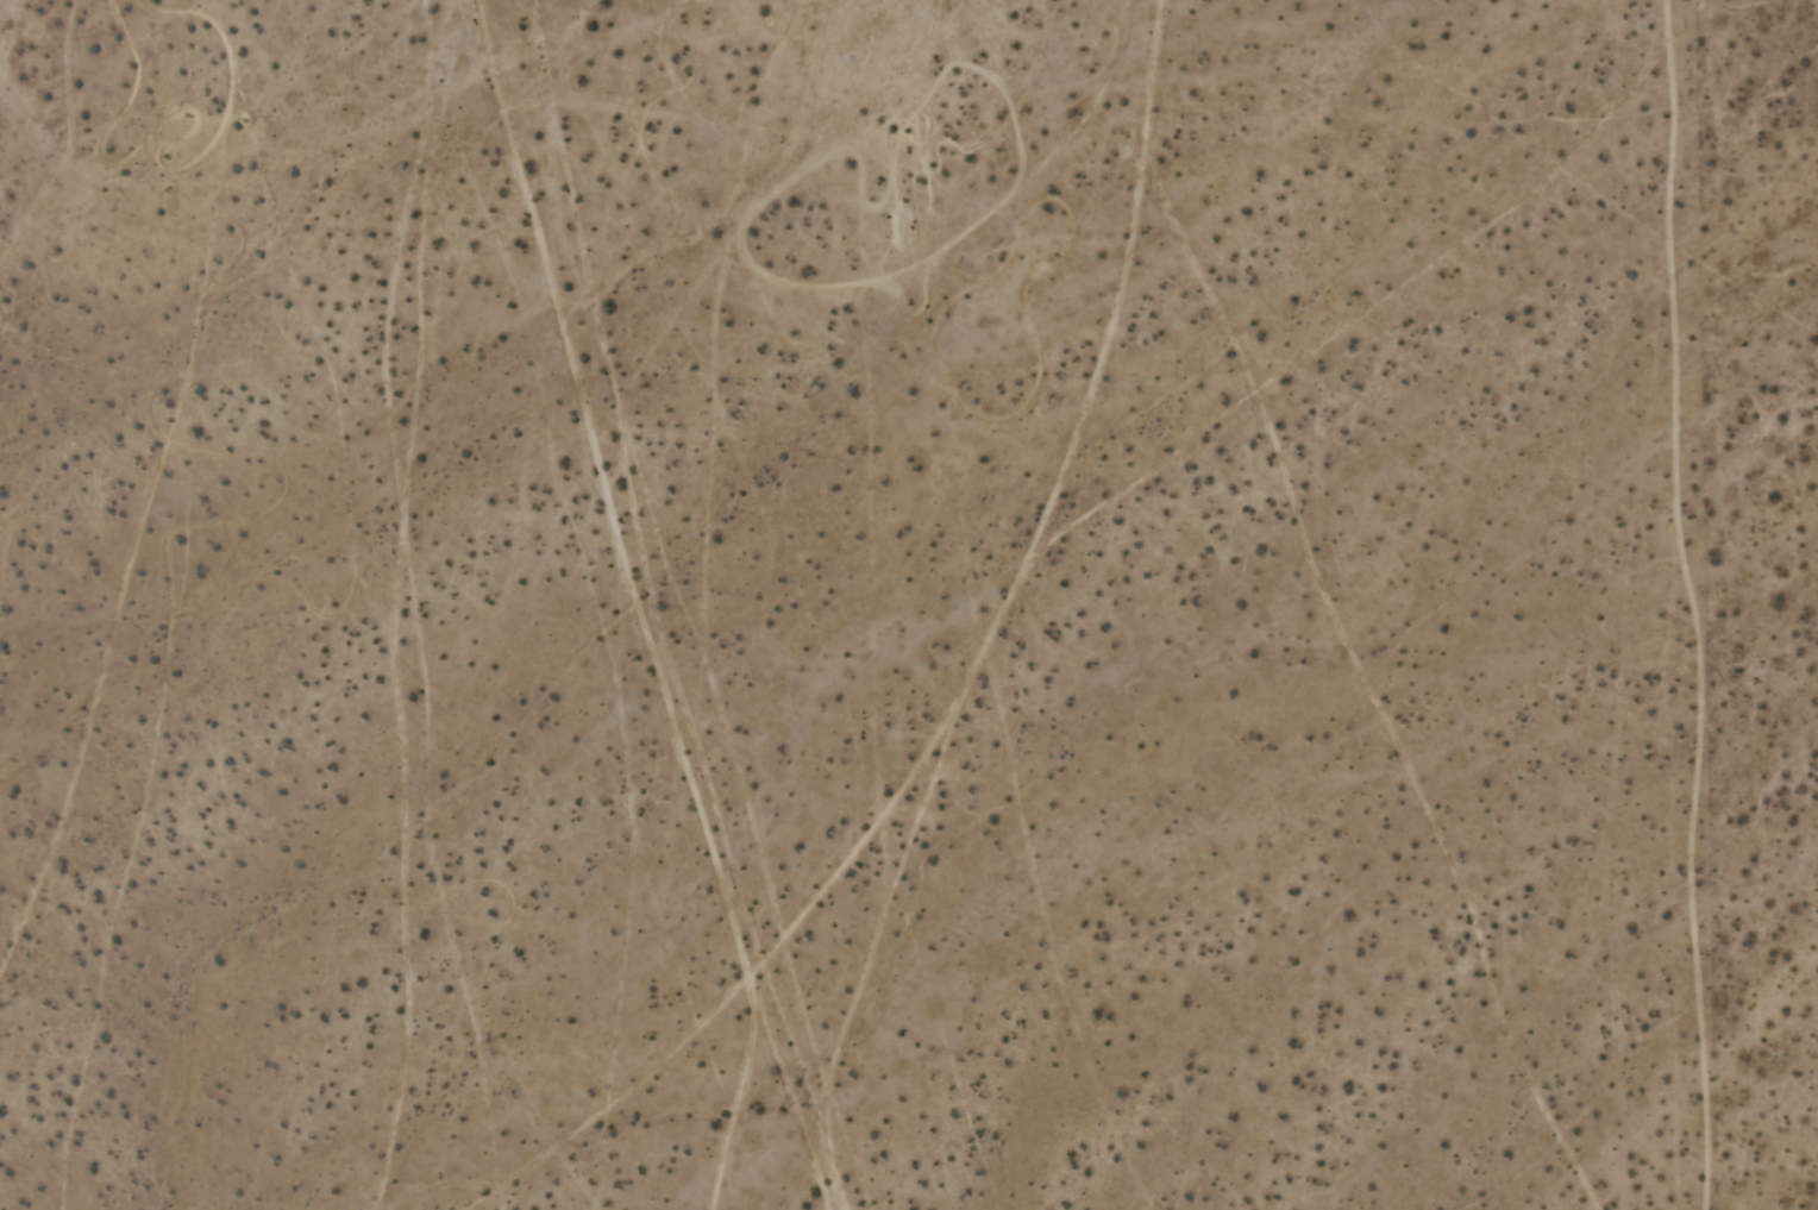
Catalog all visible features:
park: (171, 52)
crop: (909, 604)
road: (965, 689)

